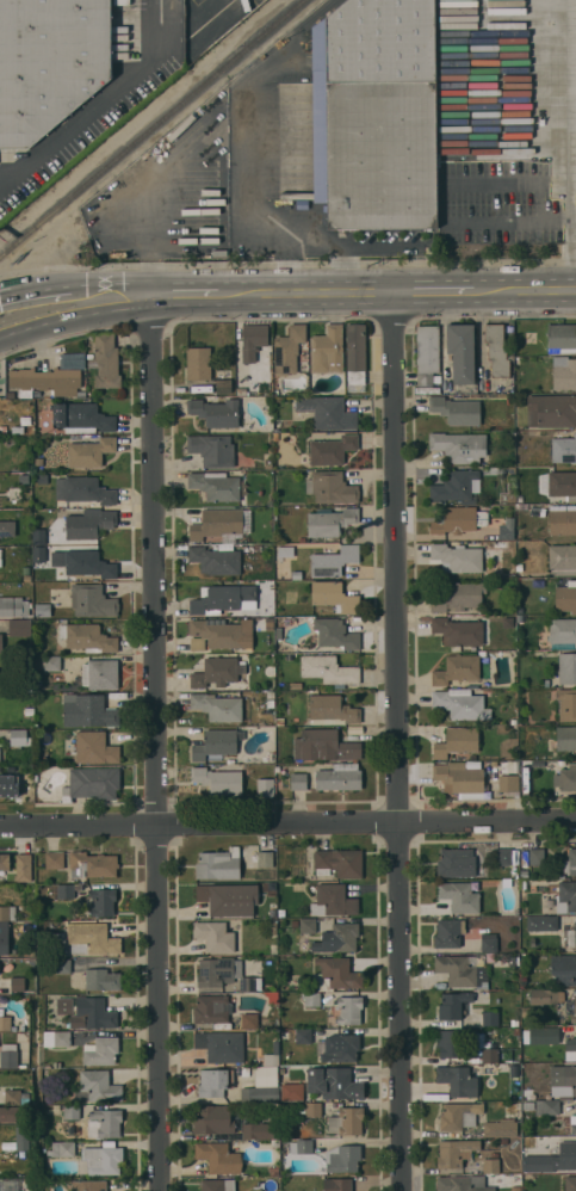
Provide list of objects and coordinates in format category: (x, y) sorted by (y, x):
building: (122, 2)
building: (51, 62)
road: (105, 103)
building: (385, 115)
railway: (150, 126)
road: (572, 143)
road: (110, 284)
road: (439, 286)
road: (532, 286)
road: (310, 288)
road: (41, 289)
road: (191, 289)
road: (7, 294)
road: (75, 316)
building: (560, 338)
building: (253, 340)
building: (290, 350)
building: (327, 350)
building: (496, 350)
building: (460, 351)
building: (355, 353)
building: (427, 354)
building: (70, 360)
building: (105, 362)
building: (198, 363)
building: (560, 374)
park: (1, 378)
building: (48, 381)
building: (223, 385)
building: (268, 389)
building: (456, 411)
building: (551, 411)
building: (215, 412)
building: (327, 412)
building: (86, 418)
building: (277, 426)
building: (8, 442)
building: (459, 446)
building: (330, 449)
building: (563, 449)
building: (212, 450)
building: (89, 452)
building: (38, 462)
building: (268, 463)
building: (495, 470)
building: (42, 479)
building: (562, 485)
building: (216, 486)
building: (330, 487)
building: (454, 487)
building: (83, 489)
building: (459, 519)
building: (562, 519)
building: (330, 522)
building: (87, 523)
building: (221, 524)
building: (6, 527)
building: (507, 529)
building: (498, 544)
building: (258, 547)
building: (284, 551)
building: (0, 557)
building: (458, 557)
building: (216, 560)
building: (562, 560)
building: (333, 561)
building: (88, 563)
building: (267, 566)
building: (519, 567)
building: (295, 575)
building: (26, 578)
building: (334, 595)
building: (457, 597)
building: (565, 597)
building: (223, 599)
building: (91, 600)
building: (13, 606)
building: (42, 610)
building: (519, 618)
building: (270, 621)
building: (19, 628)
building: (563, 630)
building: (458, 631)
building: (278, 632)
building: (219, 634)
building: (335, 634)
building: (87, 637)
building: (0, 643)
building: (289, 656)
building: (51, 662)
building: (457, 668)
building: (566, 668)
building: (328, 669)
building: (217, 672)
building: (99, 674)
building: (295, 685)
building: (270, 695)
building: (270, 703)
building: (460, 704)
building: (566, 704)
building: (217, 706)
building: (332, 710)
building: (29, 711)
building: (88, 711)
building: (280, 721)
building: (19, 738)
building: (565, 738)
road: (396, 739)
road: (157, 740)
building: (457, 741)
building: (216, 743)
building: (324, 746)
building: (94, 747)
building: (524, 765)
building: (509, 767)
building: (339, 777)
building: (566, 778)
building: (217, 779)
building: (460, 779)
building: (298, 780)
building: (92, 782)
building: (508, 783)
building: (8, 785)
building: (265, 786)
road: (287, 823)
building: (535, 856)
building: (503, 857)
building: (265, 858)
building: (54, 859)
building: (5, 862)
building: (339, 862)
building: (571, 862)
building: (456, 863)
building: (92, 864)
building: (218, 864)
building: (23, 866)
building: (524, 874)
building: (522, 884)
building: (64, 890)
building: (459, 896)
building: (565, 896)
building: (228, 897)
building: (103, 901)
building: (333, 901)
building: (7, 913)
building: (281, 913)
building: (541, 922)
building: (306, 926)
building: (273, 927)
building: (447, 933)
building: (575, 934)
building: (213, 936)
building: (4, 938)
building: (337, 938)
building: (92, 939)
building: (488, 943)
building: (62, 965)
building: (564, 969)
building: (463, 970)
building: (224, 974)
building: (335, 975)
building: (101, 979)
building: (17, 983)
building: (271, 993)
building: (544, 996)
building: (310, 999)
building: (64, 1005)
building: (452, 1005)
building: (211, 1008)
building: (571, 1008)
building: (349, 1010)
building: (93, 1013)
building: (489, 1018)
building: (249, 1020)
building: (5, 1022)
building: (514, 1023)
building: (283, 1033)
building: (550, 1033)
building: (303, 1036)
building: (56, 1038)
building: (450, 1043)
building: (570, 1044)
building: (221, 1045)
building: (341, 1048)
building: (100, 1051)
building: (8, 1055)
building: (489, 1055)
building: (271, 1056)
building: (265, 1076)
building: (570, 1080)
building: (457, 1081)
building: (215, 1082)
building: (333, 1082)
building: (99, 1085)
building: (291, 1091)
building: (260, 1094)
building: (513, 1094)
building: (16, 1097)
building: (527, 1105)
building: (546, 1107)
building: (312, 1109)
building: (70, 1112)
building: (10, 1113)
building: (458, 1115)
building: (212, 1119)
building: (346, 1121)
building: (104, 1123)
building: (572, 1123)
building: (500, 1128)
building: (69, 1129)
building: (258, 1130)
building: (20, 1137)
building: (503, 1140)
building: (274, 1143)
building: (302, 1146)
building: (61, 1149)
building: (454, 1152)
building: (494, 1154)
building: (218, 1156)
building: (342, 1158)
building: (538, 1158)
building: (100, 1160)
building: (490, 1165)
building: (272, 1171)
building: (570, 1183)
building: (336, 1184)
building: (462, 1184)
building: (8, 1185)
building: (91, 1185)
building: (217, 1185)
building: (515, 1189)

